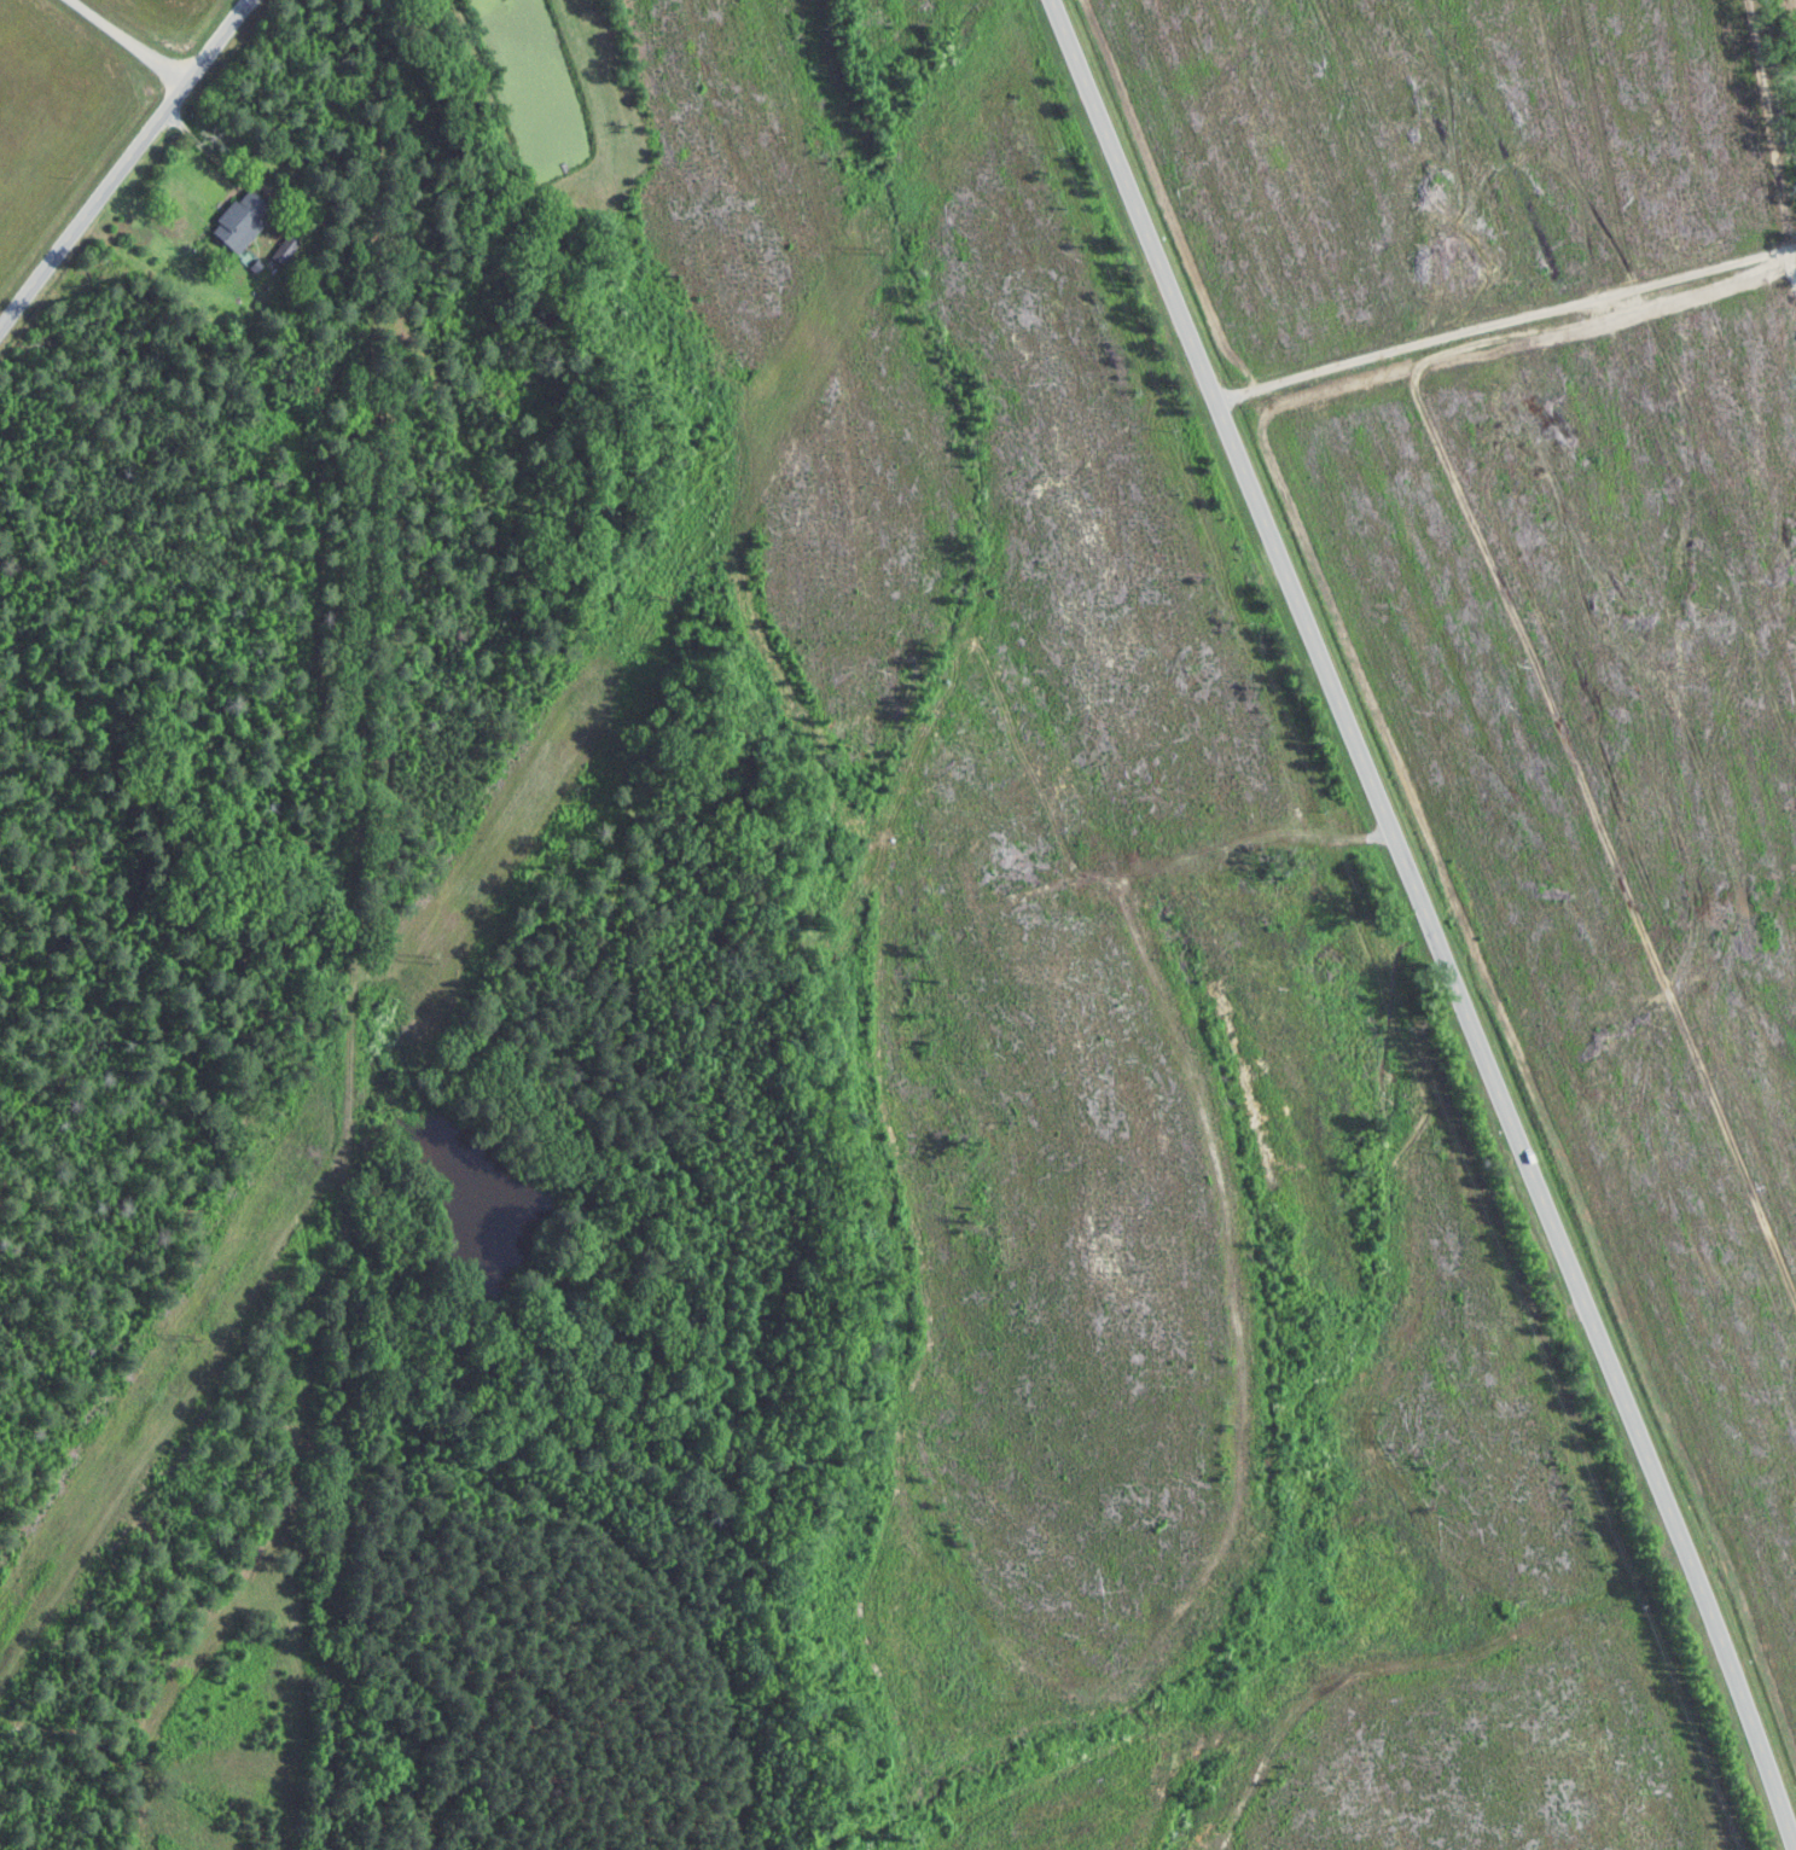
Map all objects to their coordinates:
road: (122, 42)
road: (123, 163)
building: (248, 220)
road: (1503, 316)
road: (1432, 920)

